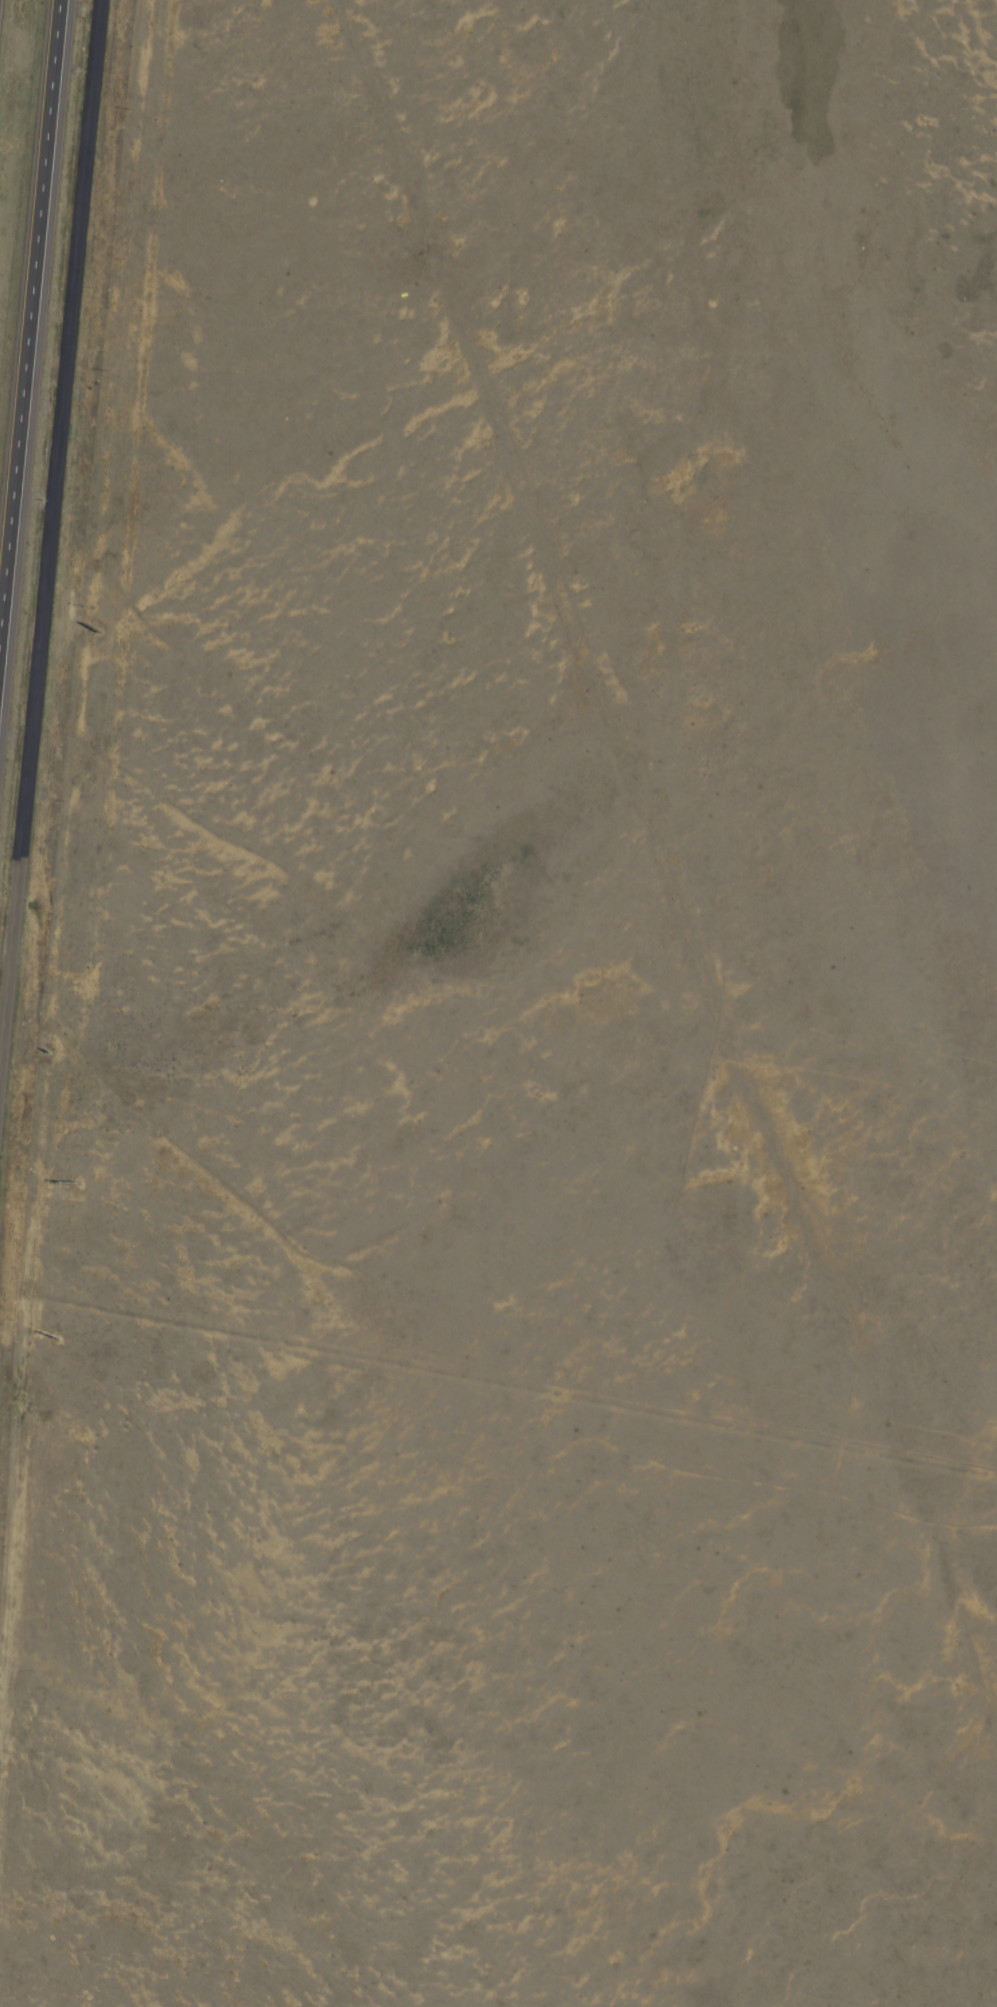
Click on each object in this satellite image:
road: (27, 291)
road: (48, 519)

